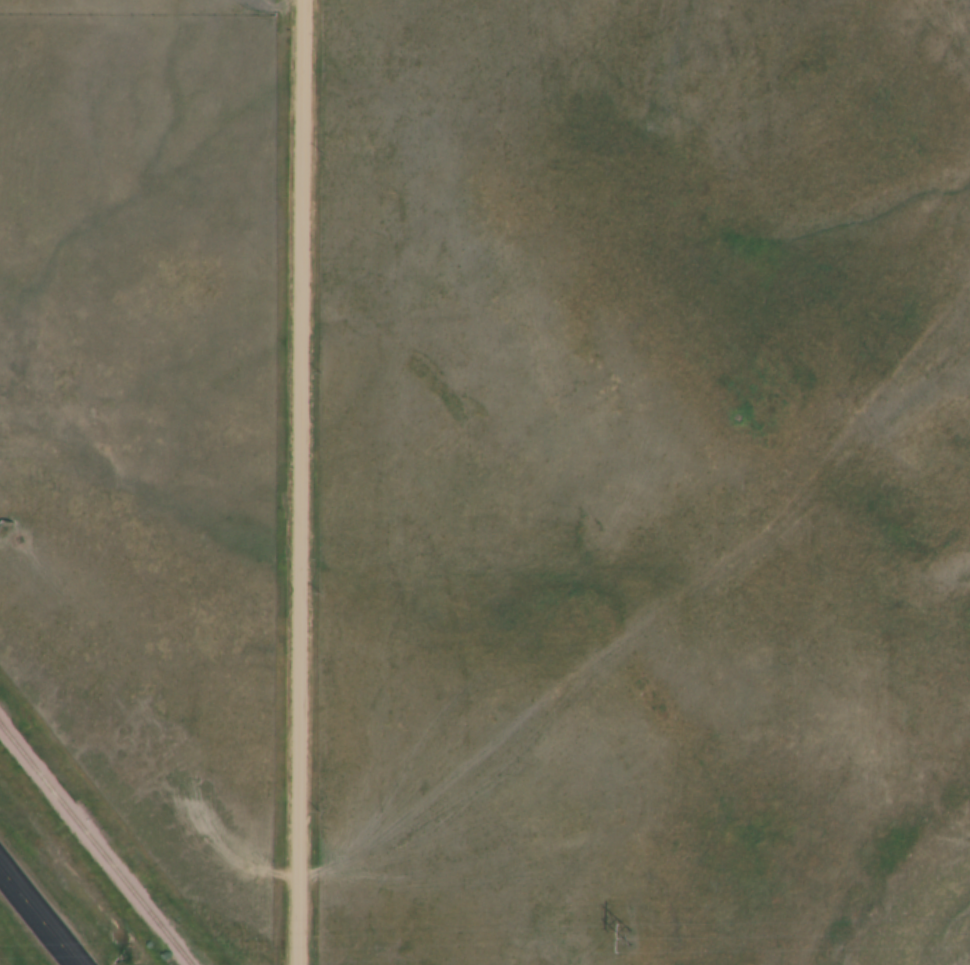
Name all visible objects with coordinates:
road: (299, 482)
railway: (95, 844)
road: (36, 919)
power tower: (626, 937)

